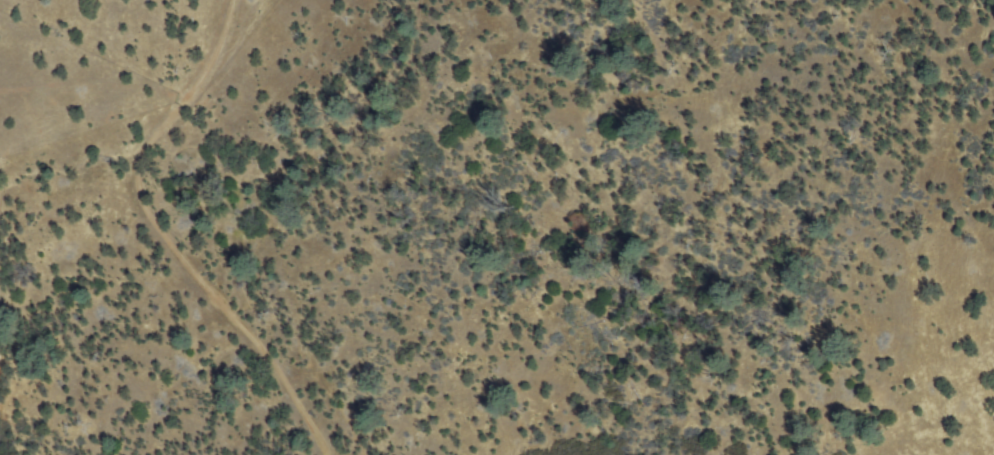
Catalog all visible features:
road: (163, 235)

